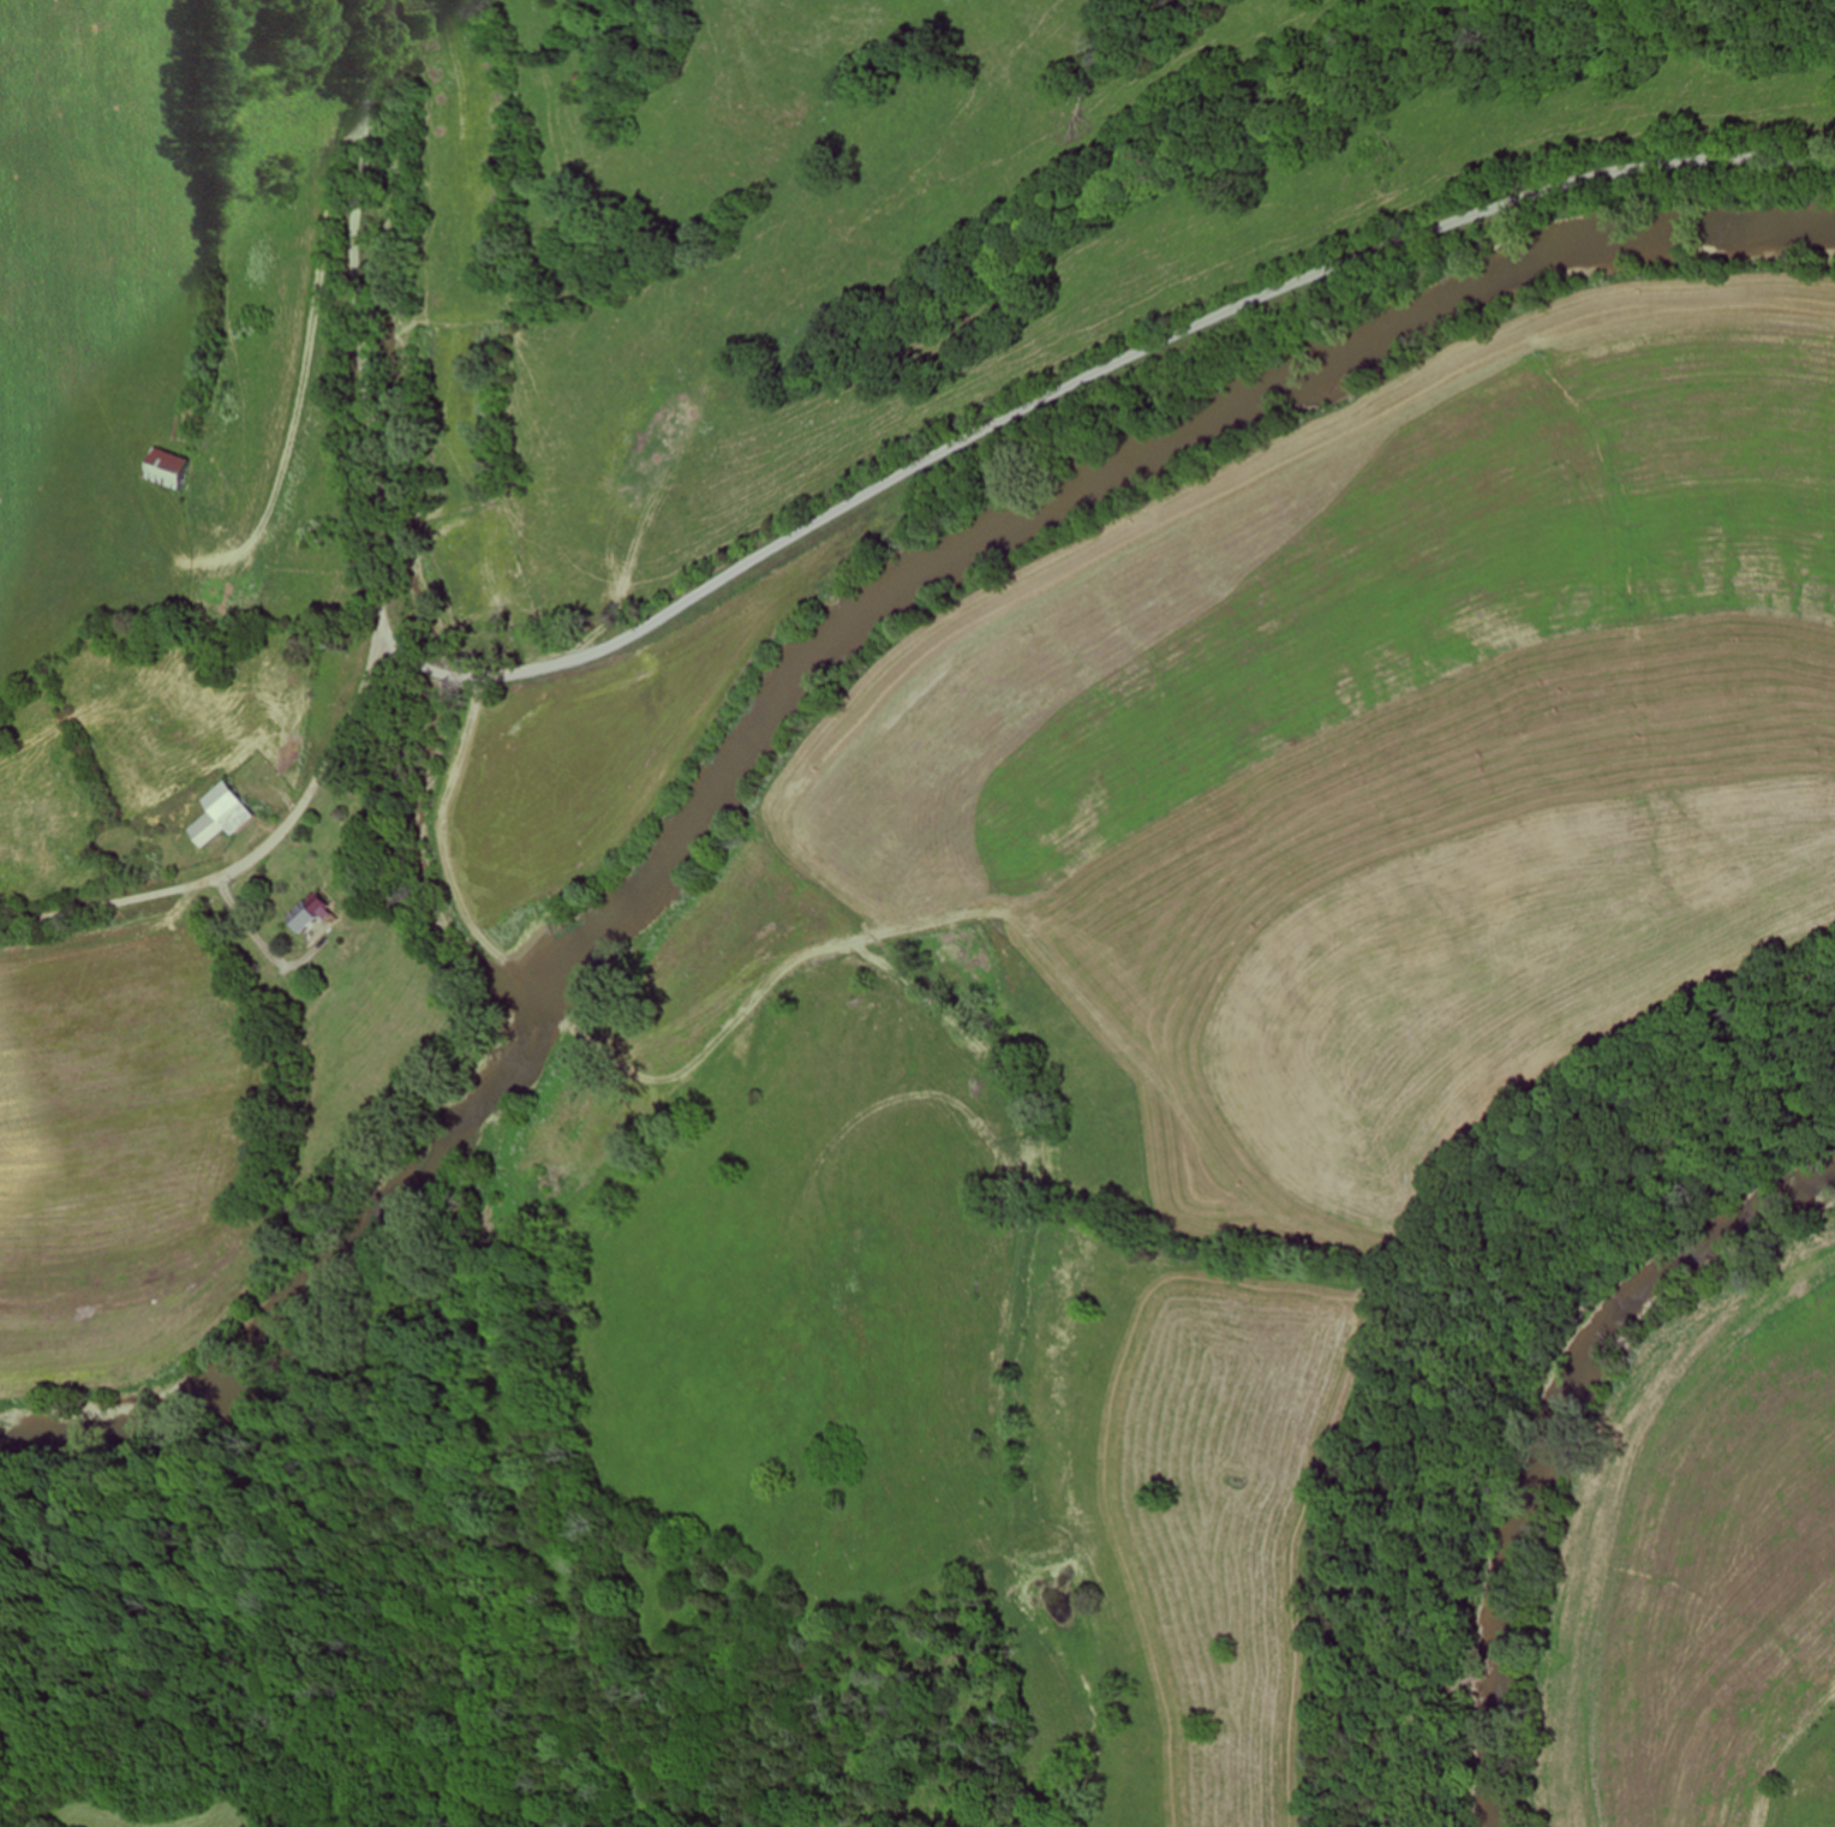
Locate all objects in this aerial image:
road: (353, 317)
road: (1082, 380)
building: (179, 468)
road: (376, 637)
river: (797, 662)
road: (309, 792)
building: (227, 814)
road: (88, 909)
river: (1560, 1443)

